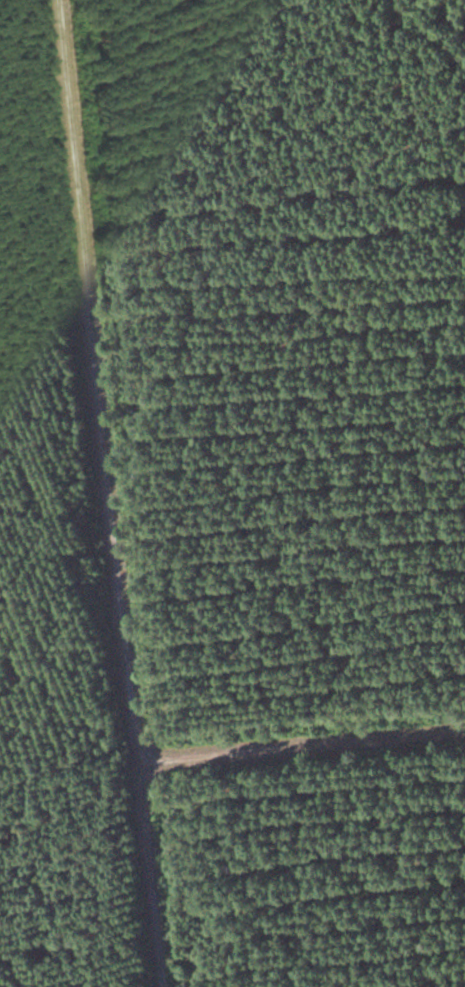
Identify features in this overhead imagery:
road: (114, 540)
road: (149, 871)

